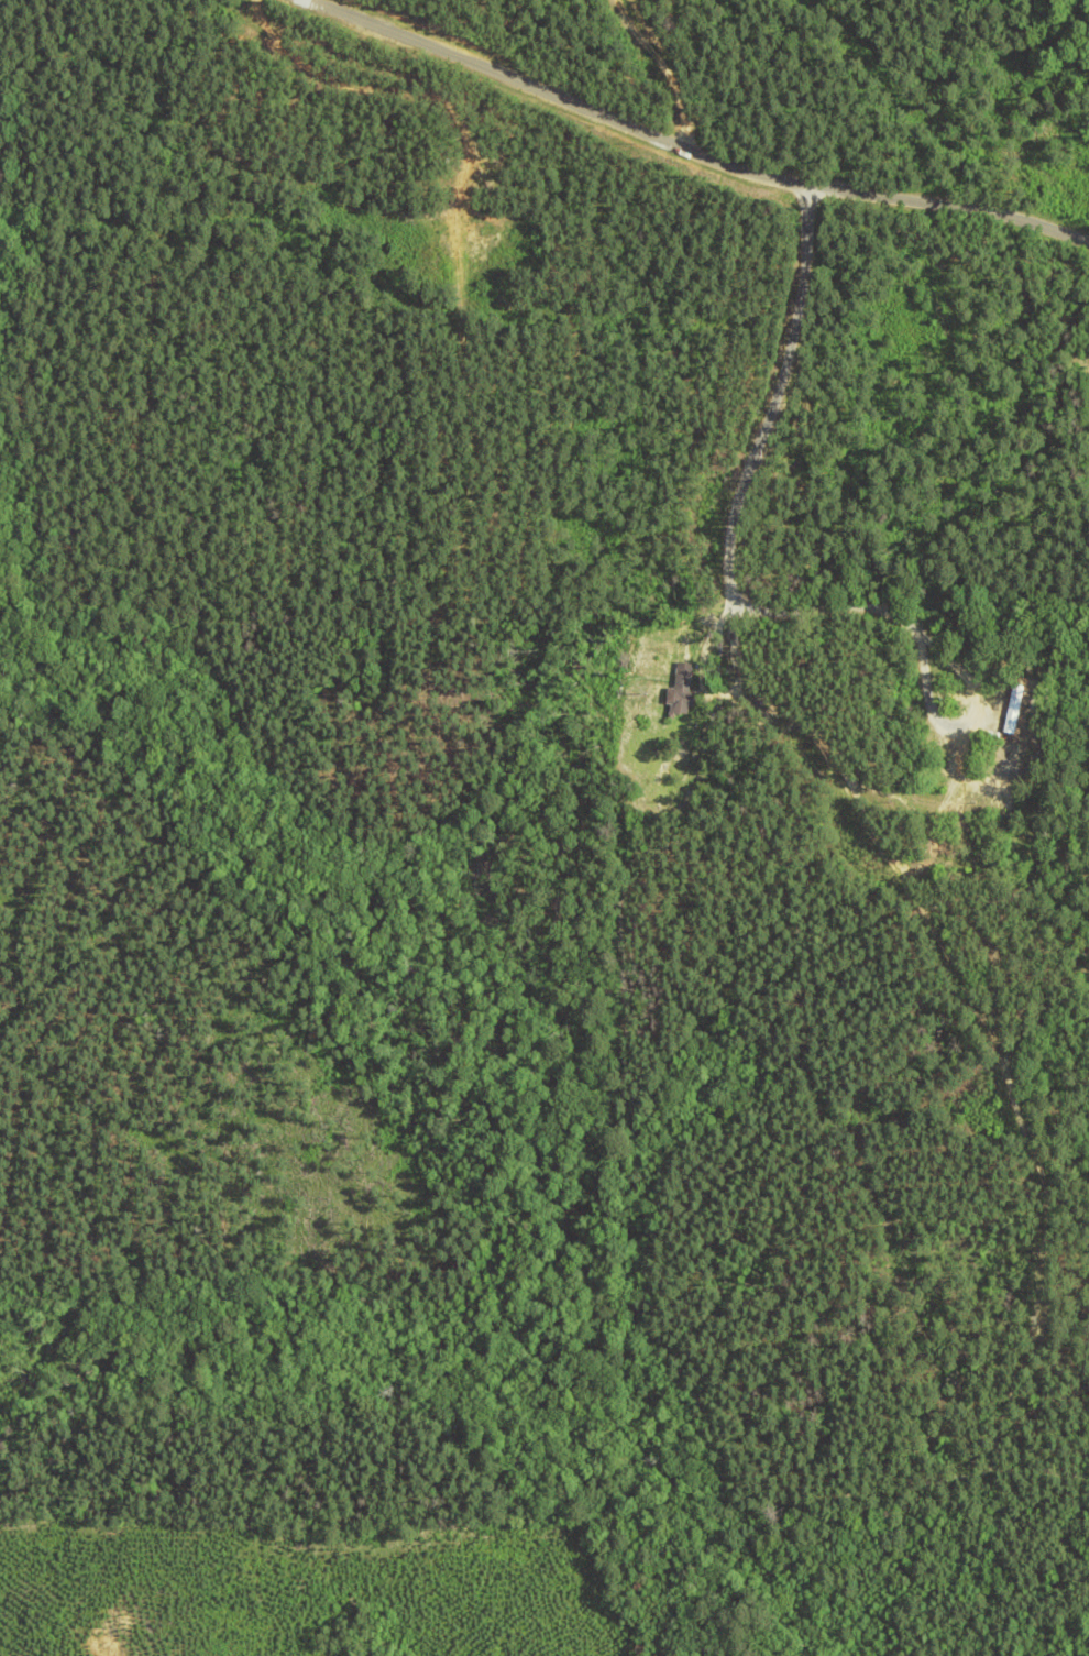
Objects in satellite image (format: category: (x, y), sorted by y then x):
road: (711, 116)
building: (680, 692)

